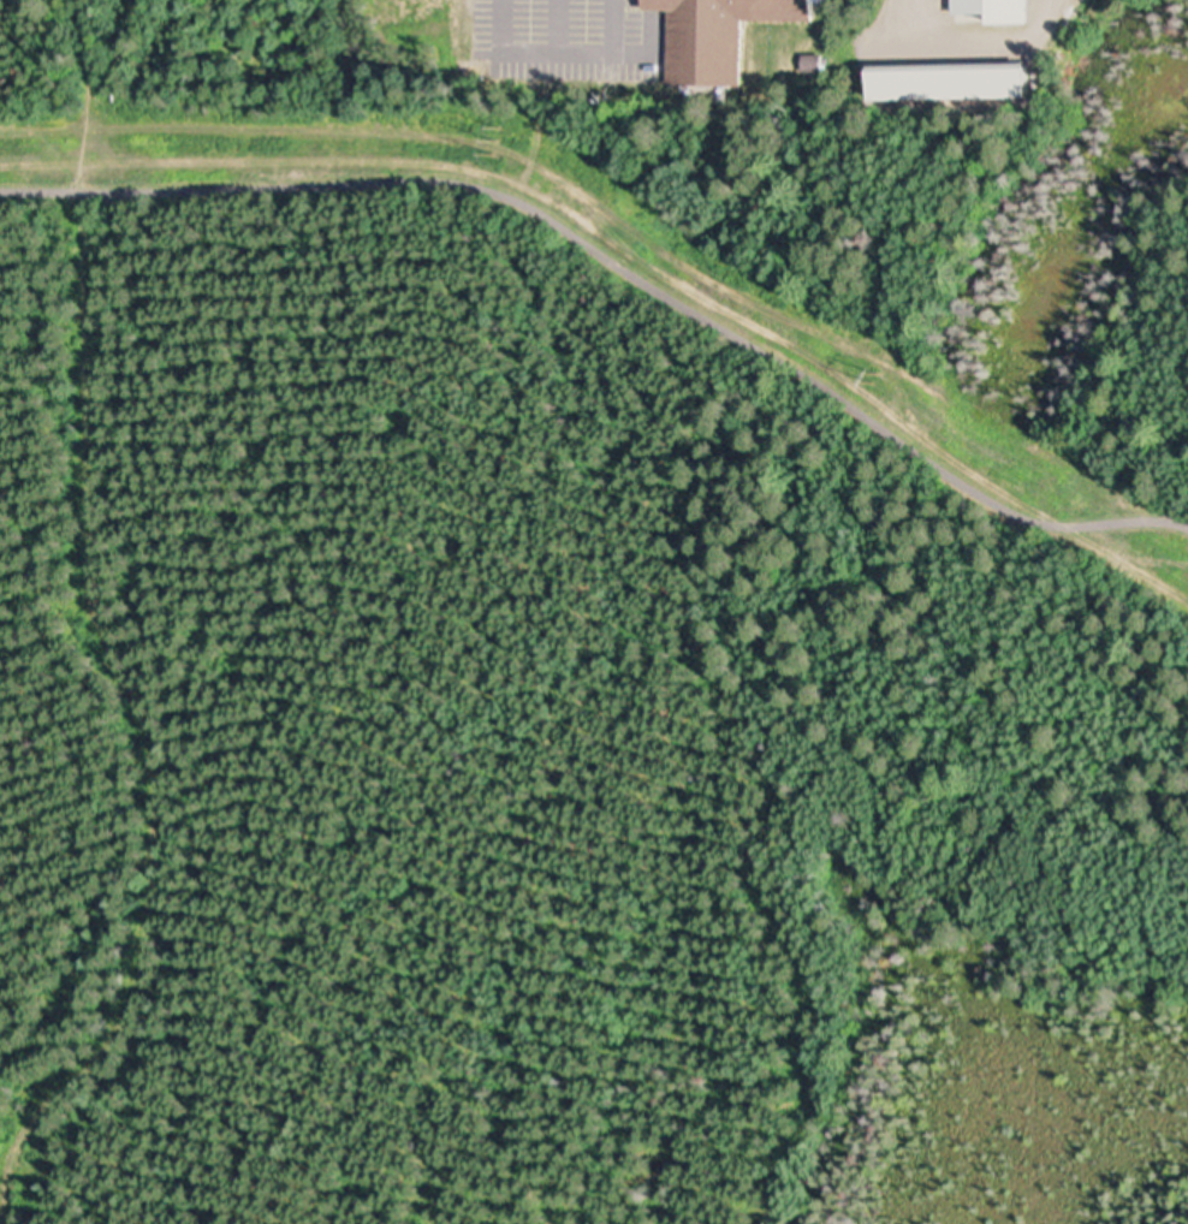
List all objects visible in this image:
building: (721, 7)
power tower: (492, 126)
road: (619, 266)
power tower: (873, 372)

